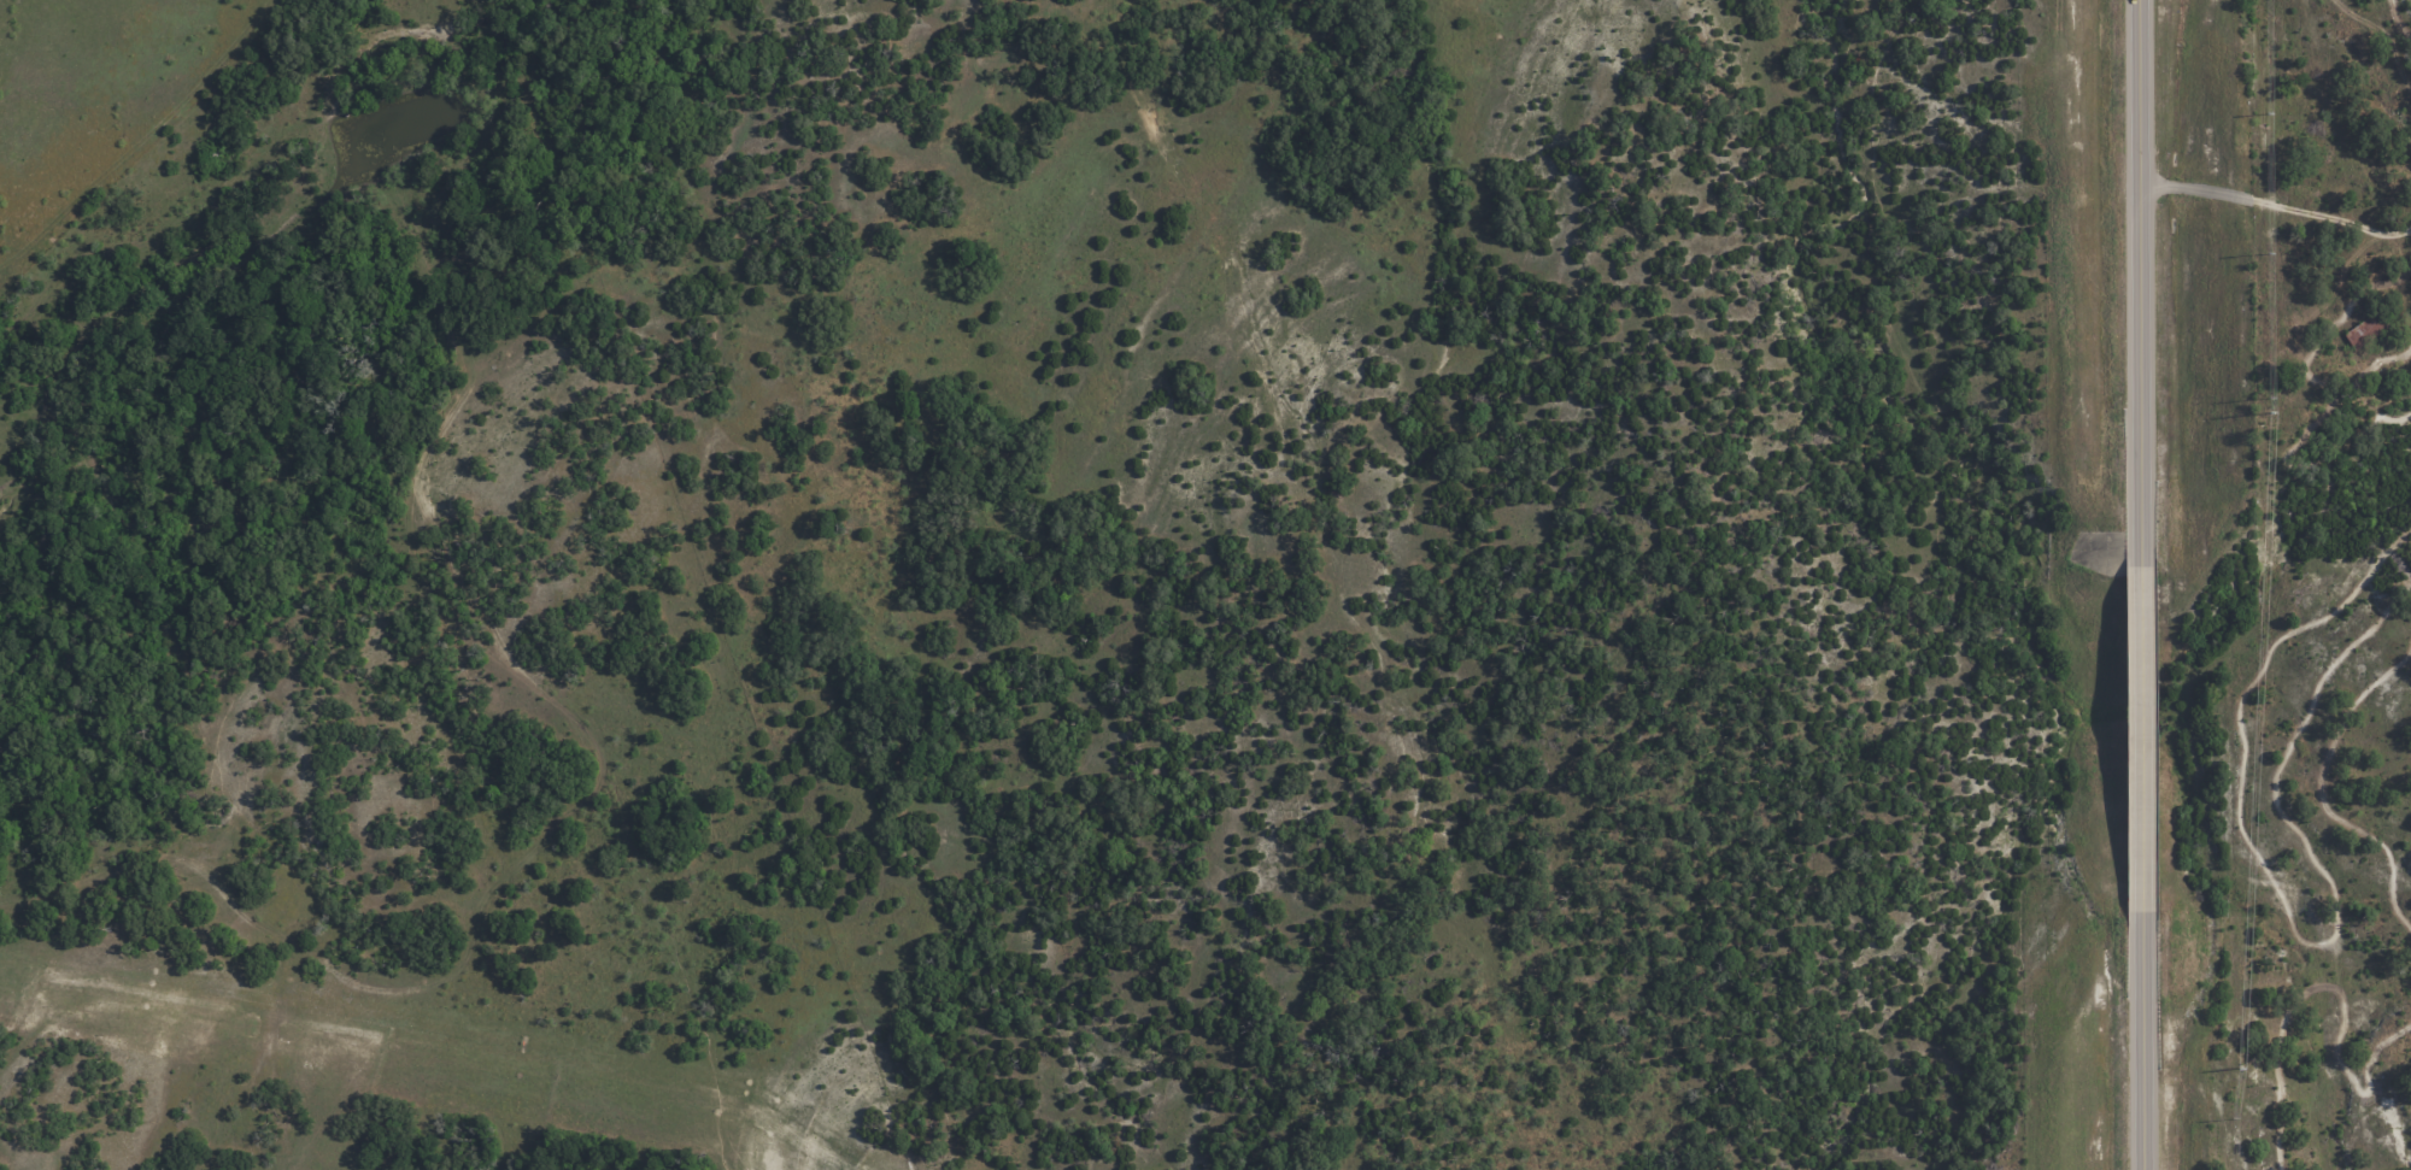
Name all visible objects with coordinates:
road: (2276, 188)
road: (2140, 283)
building: (2366, 330)
road: (2143, 741)
road: (2145, 1042)

